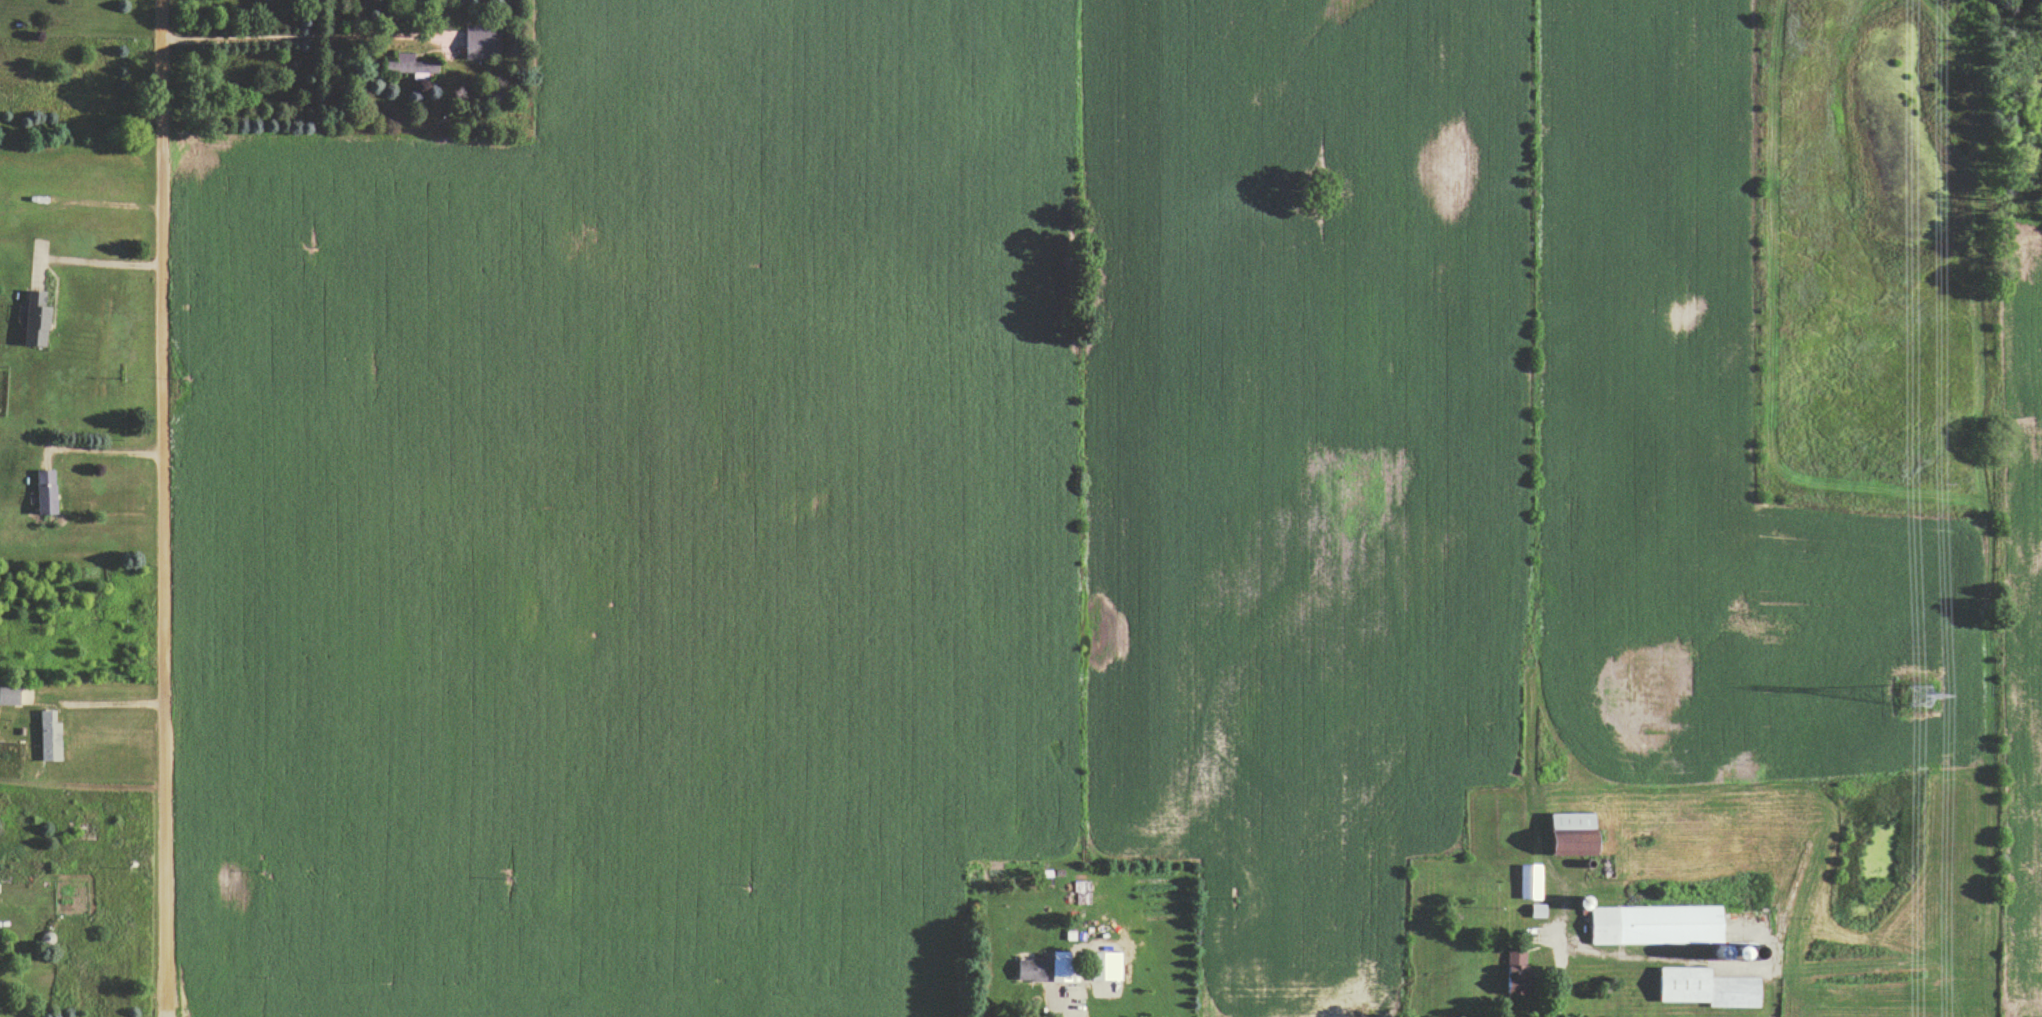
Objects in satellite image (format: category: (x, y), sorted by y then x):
road: (298, 38)
building: (478, 43)
building: (405, 67)
road: (110, 204)
road: (92, 263)
building: (31, 321)
road: (102, 451)
building: (42, 493)
road: (167, 508)
building: (7, 698)
power tower: (1913, 698)
building: (45, 738)
building: (1567, 836)
building: (1522, 884)
building: (1650, 926)
building: (1058, 968)
building: (1028, 972)
building: (1503, 972)
road: (1558, 974)
building: (1700, 990)

